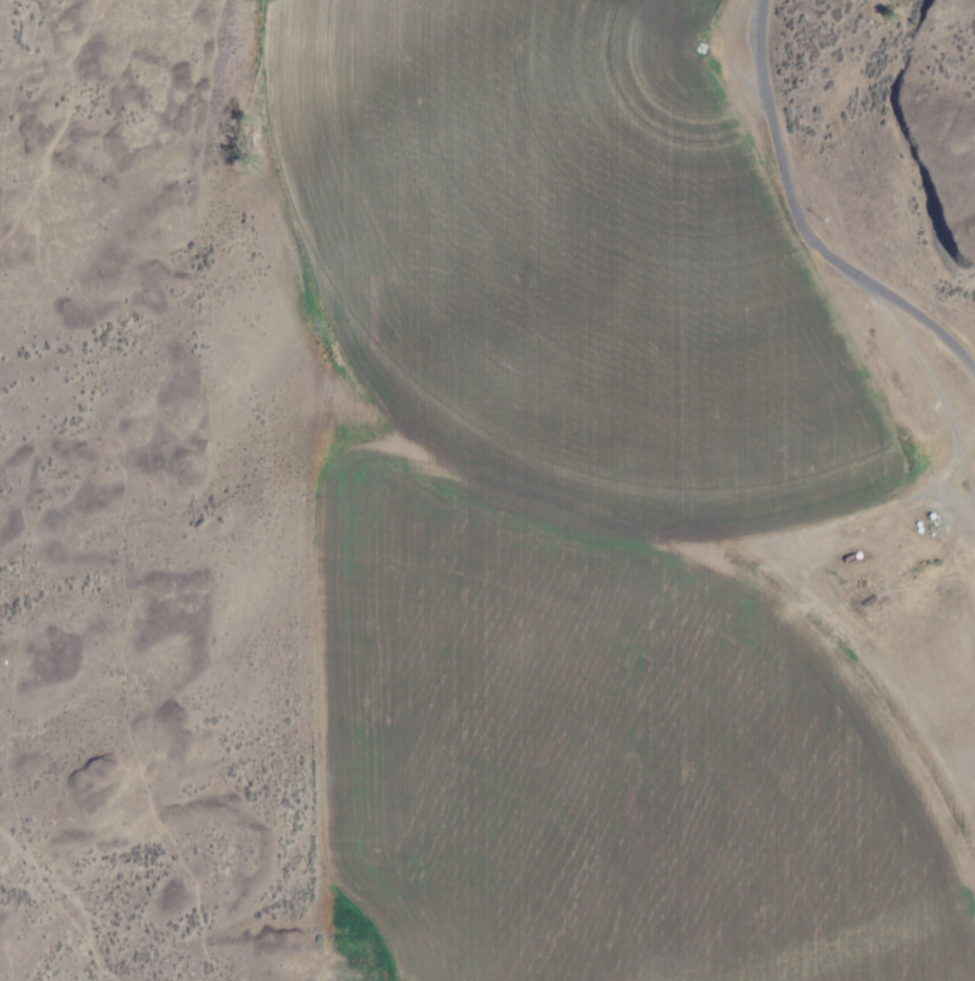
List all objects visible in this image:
road: (797, 227)

